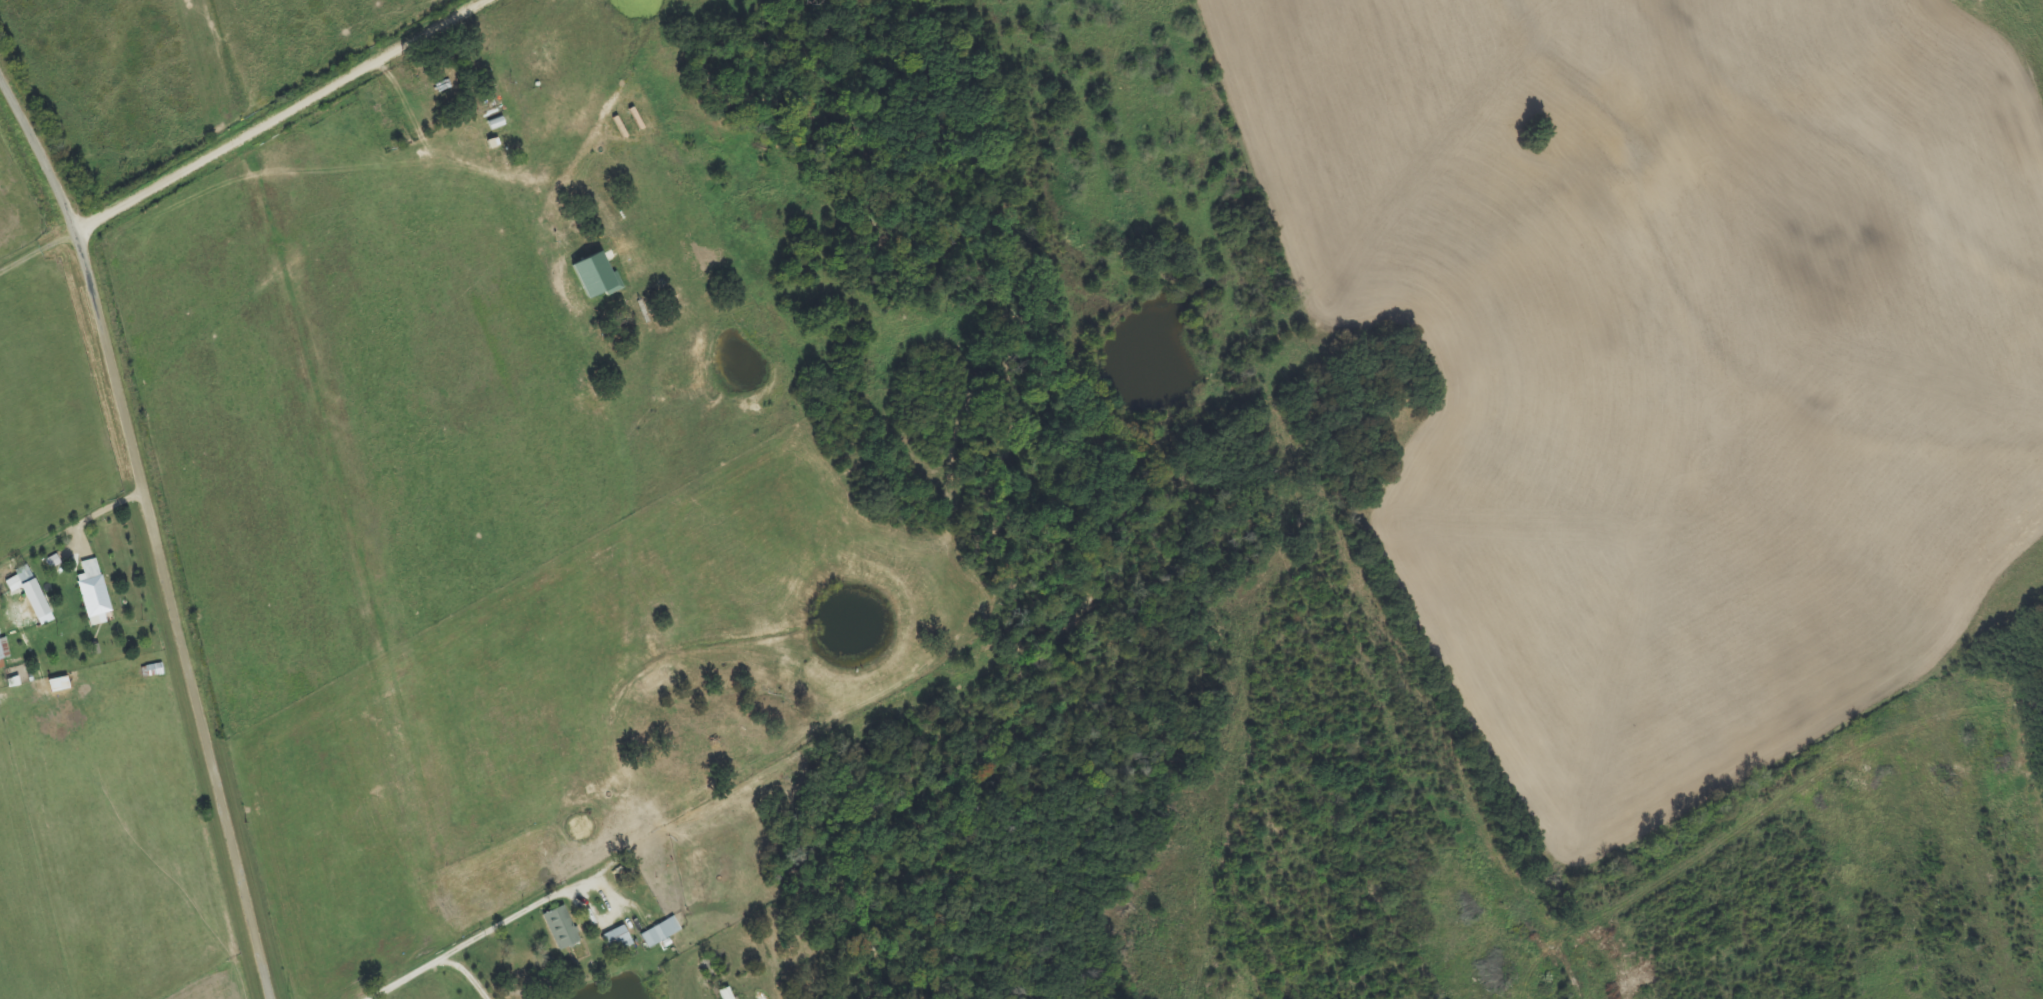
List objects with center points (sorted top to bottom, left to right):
road: (288, 115)
building: (597, 277)
road: (843, 518)
road: (158, 524)
building: (24, 575)
building: (33, 600)
building: (0, 636)
building: (4, 650)
road: (577, 656)
building: (562, 929)
building: (661, 933)
building: (618, 940)

